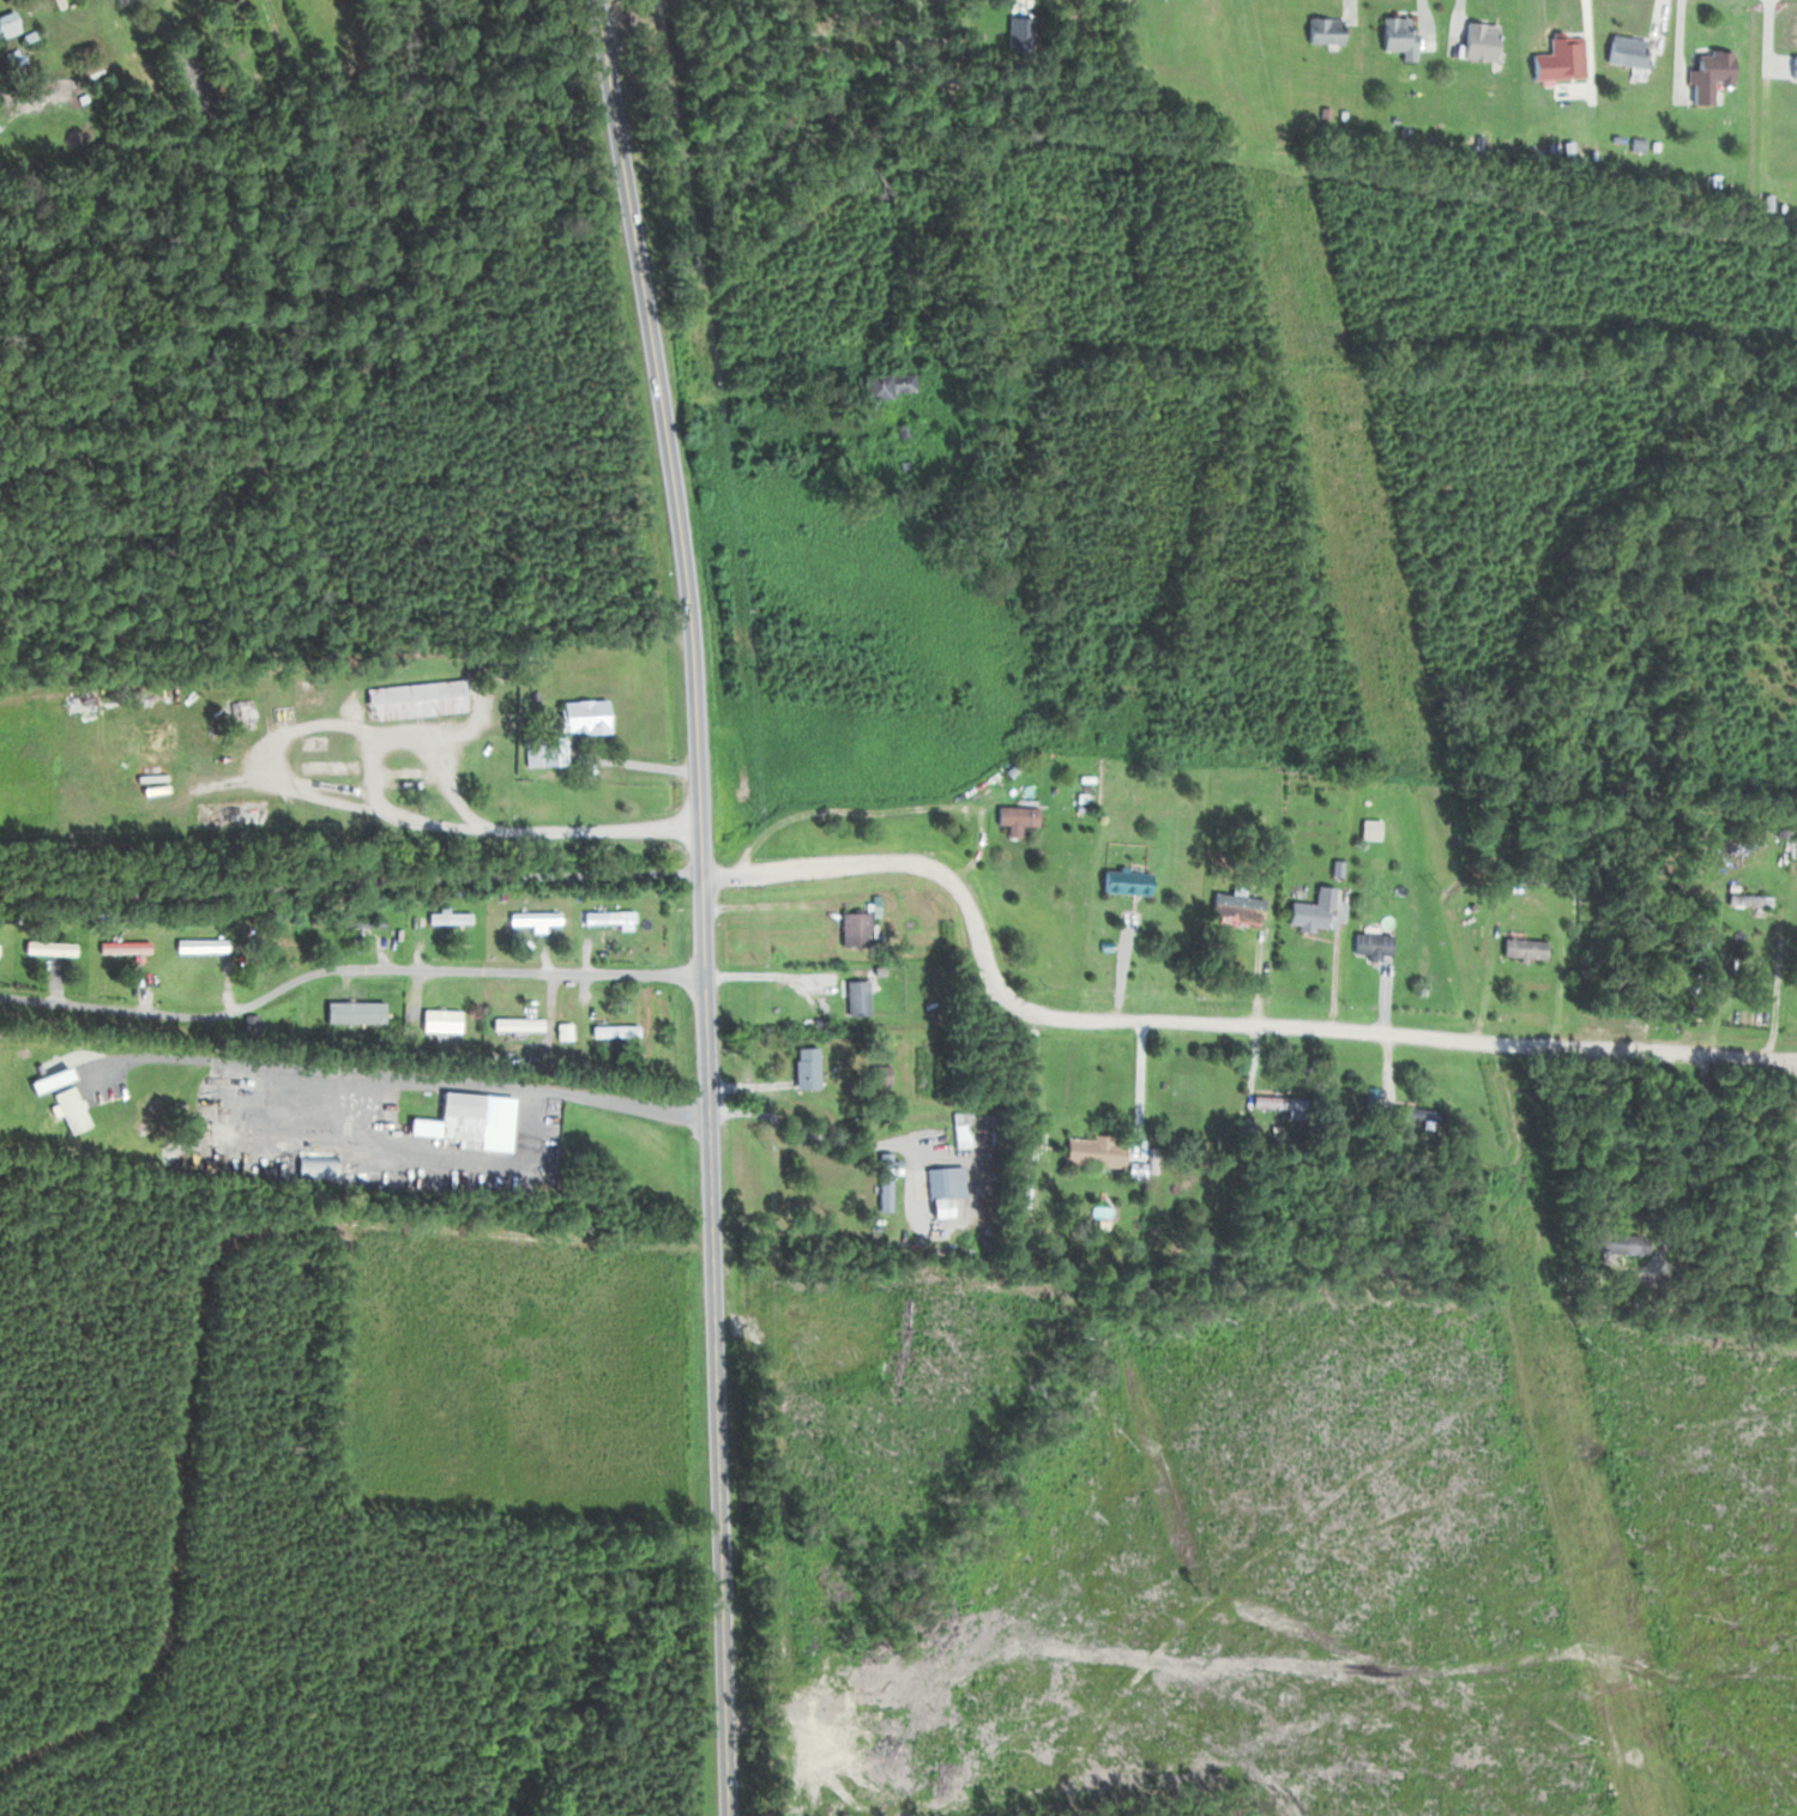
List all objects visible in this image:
building: (6, 24)
building: (1323, 29)
building: (1395, 31)
building: (1477, 40)
building: (1626, 50)
building: (1792, 66)
building: (1707, 72)
building: (880, 382)
power tower: (1332, 428)
building: (411, 699)
building: (237, 713)
building: (579, 716)
building: (539, 750)
building: (1013, 817)
road: (351, 881)
building: (1122, 881)
power tower: (1436, 891)
building: (1745, 899)
road: (705, 904)
building: (1235, 905)
building: (1310, 910)
building: (444, 917)
building: (530, 917)
building: (603, 917)
building: (355, 919)
building: (851, 928)
building: (1370, 942)
building: (194, 945)
building: (46, 947)
building: (119, 947)
building: (1521, 947)
road: (349, 971)
building: (855, 997)
building: (360, 1016)
building: (436, 1019)
road: (1205, 1021)
building: (515, 1024)
building: (609, 1030)
building: (560, 1031)
building: (802, 1068)
building: (875, 1075)
road: (404, 1076)
building: (1276, 1102)
building: (67, 1109)
building: (453, 1115)
building: (959, 1129)
building: (1092, 1152)
building: (309, 1166)
building: (942, 1182)
building: (1790, 1301)
road: (213, 1310)
power tower: (1550, 1371)

